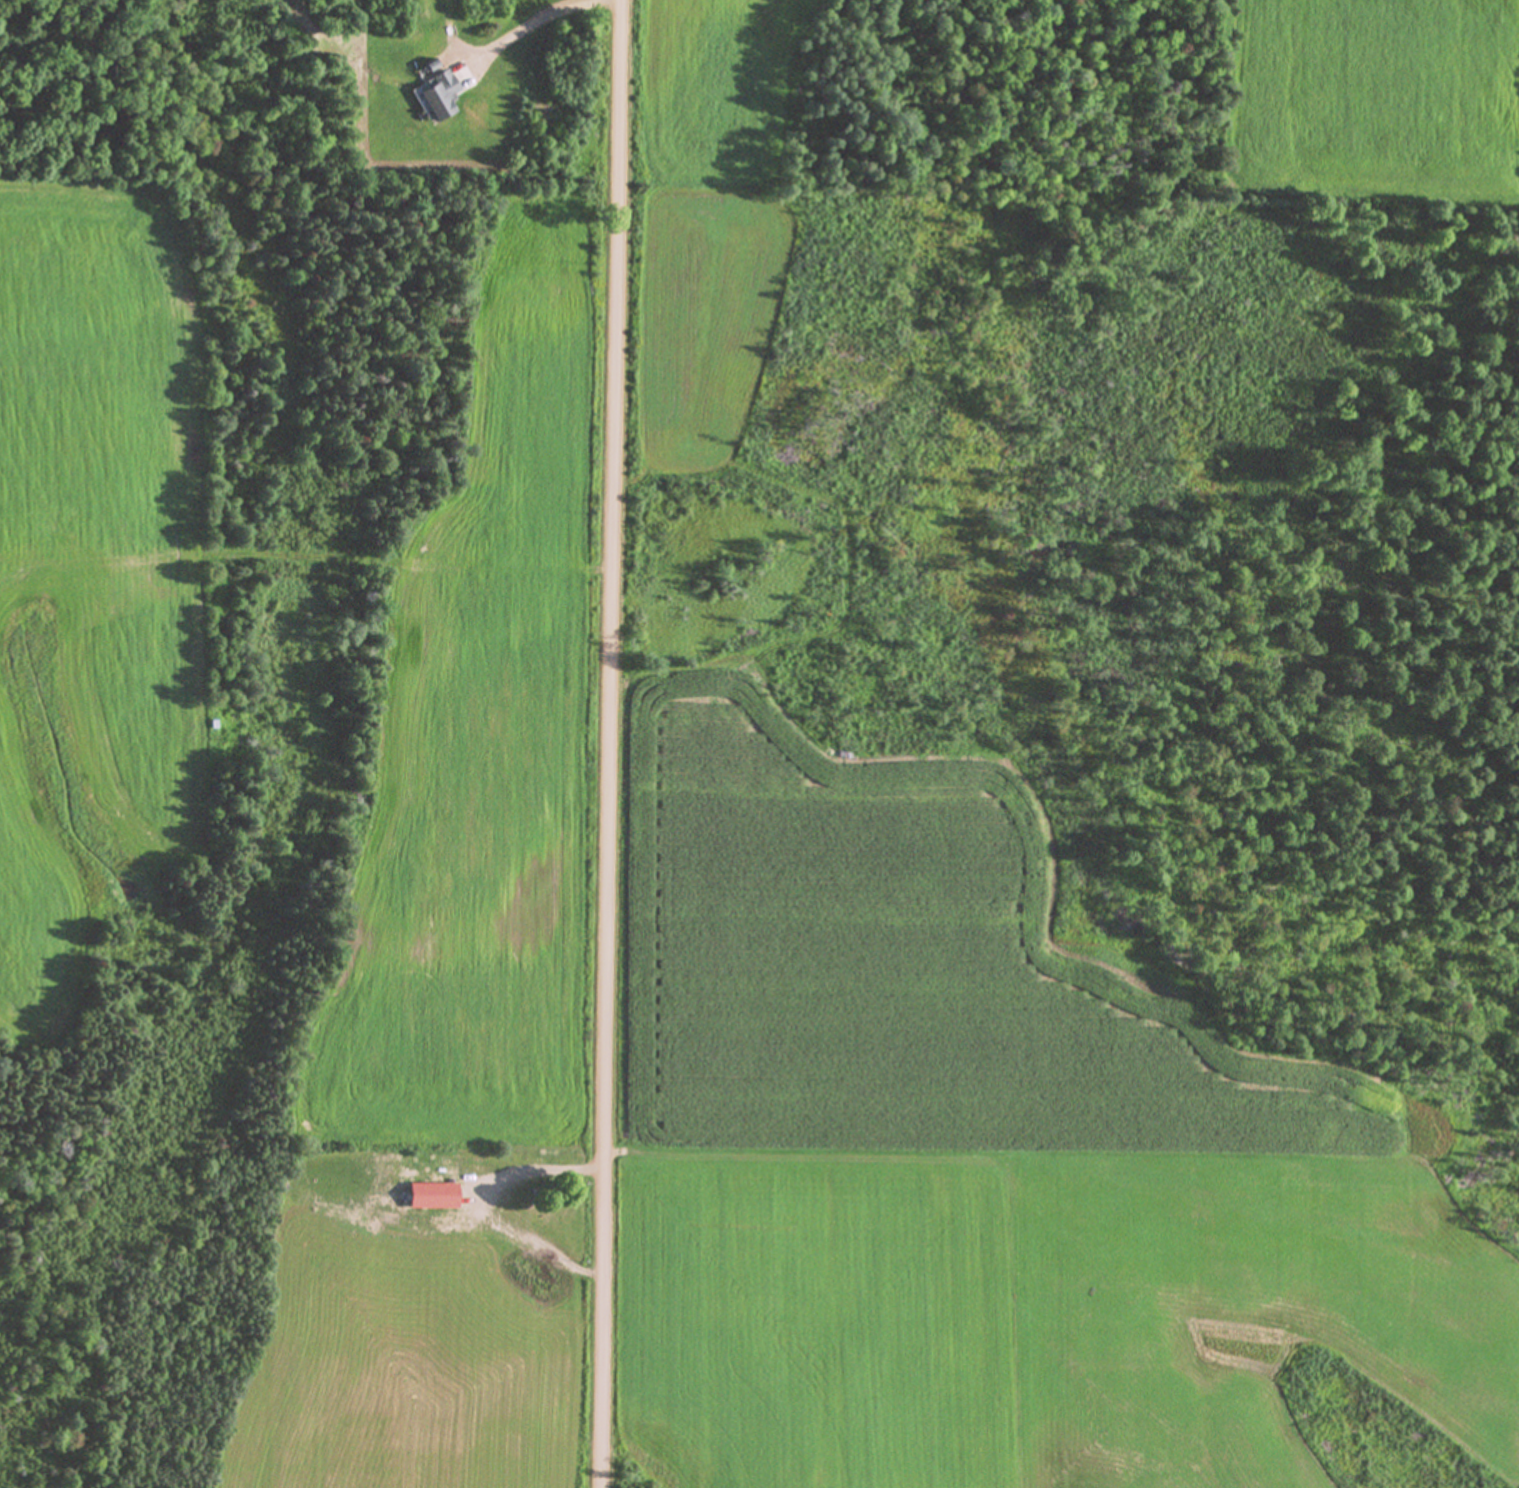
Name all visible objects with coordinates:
road: (540, 13)
building: (435, 95)
road: (606, 743)

